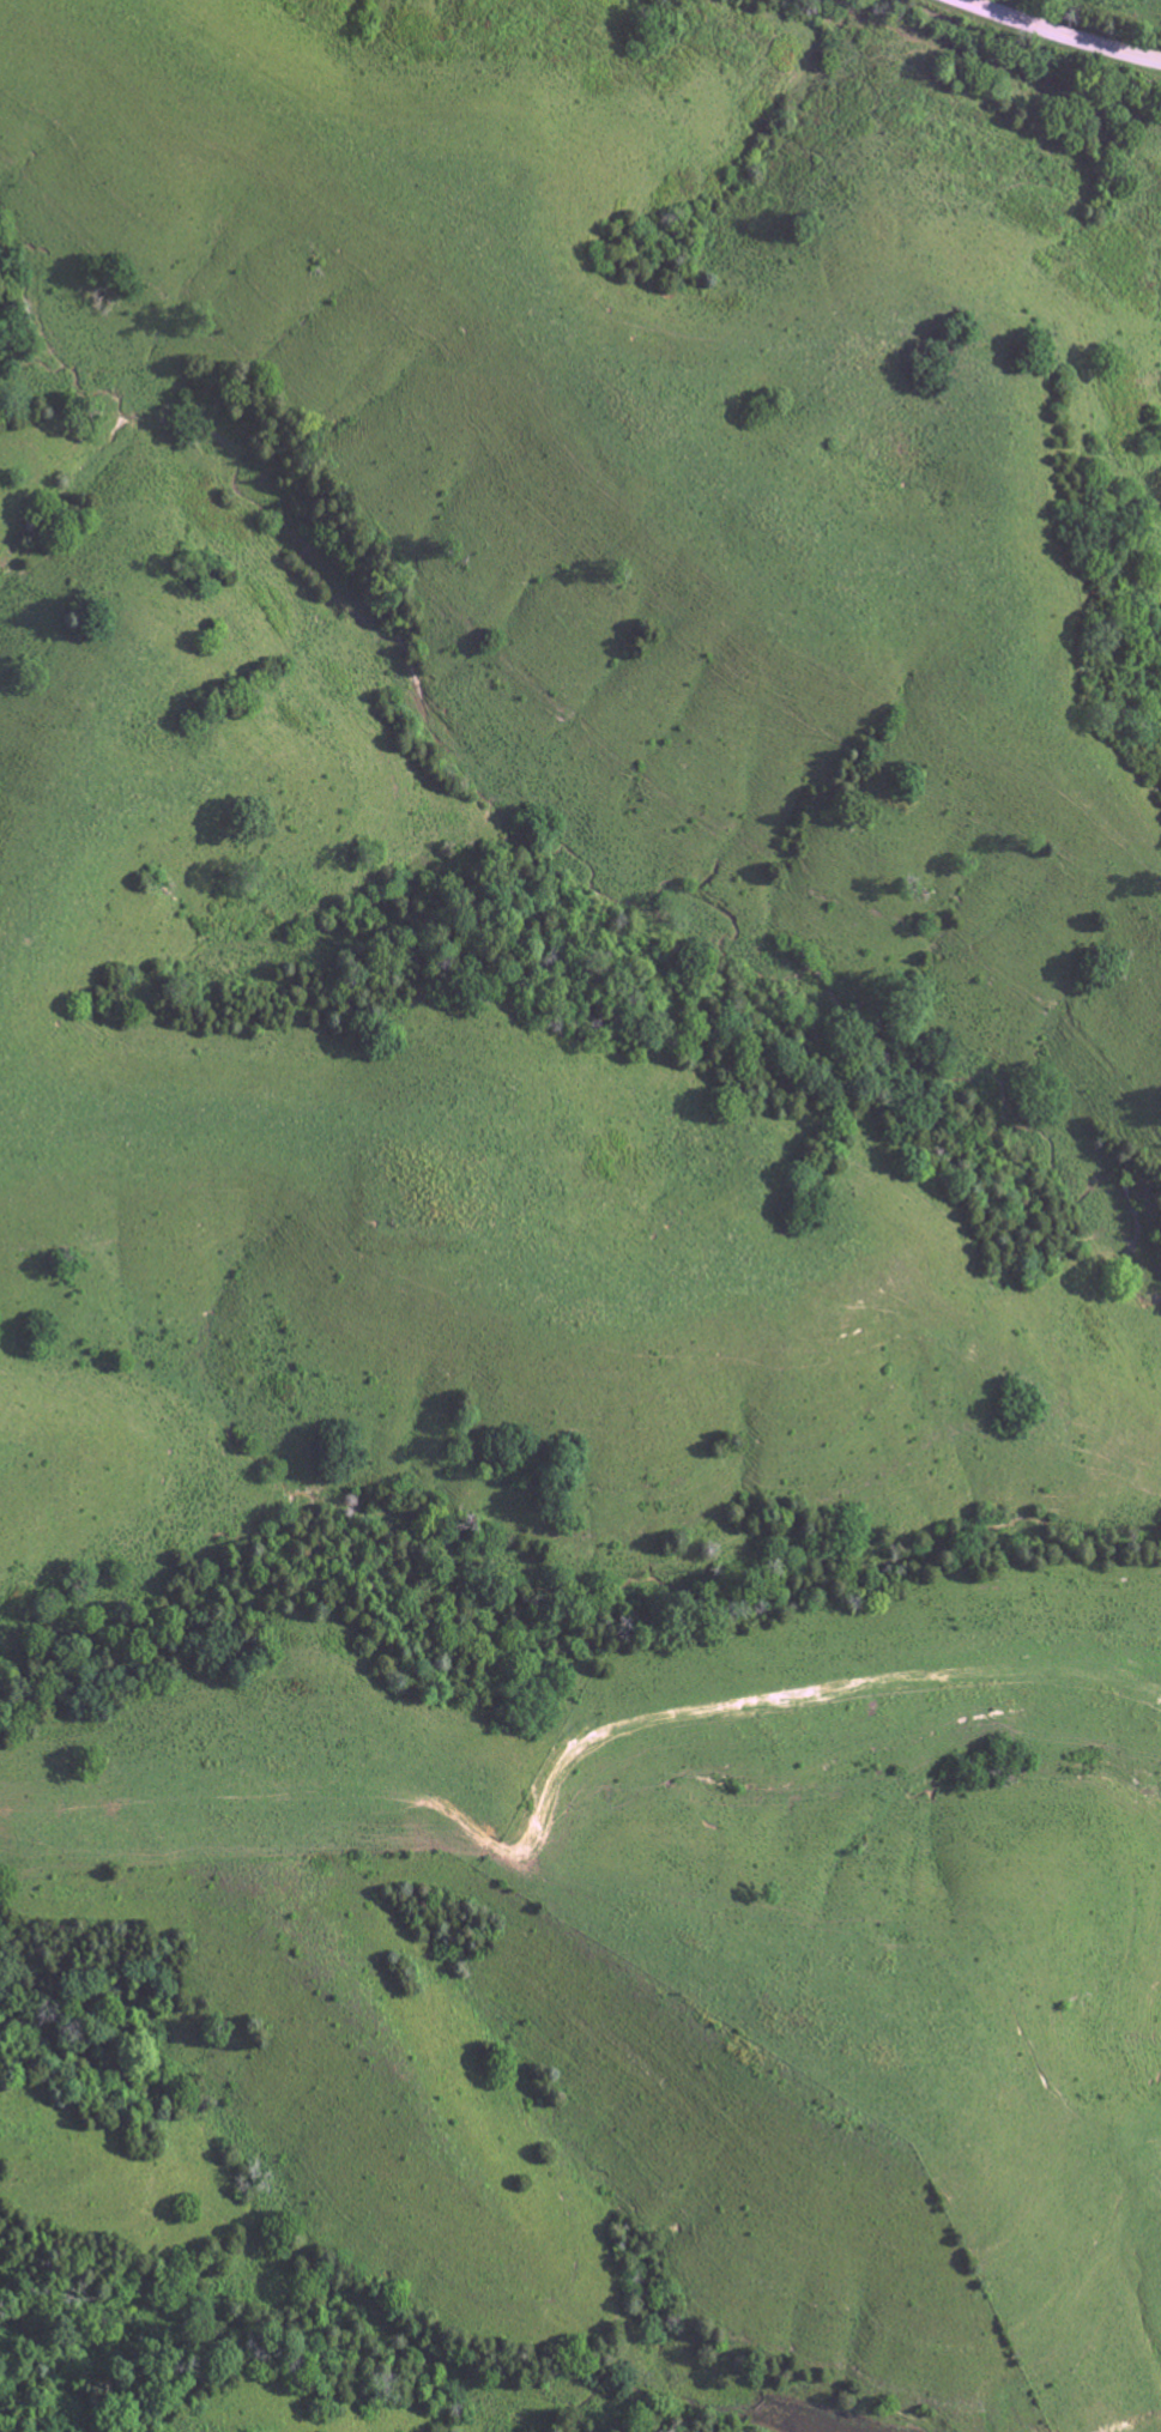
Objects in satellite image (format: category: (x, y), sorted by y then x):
road: (1054, 35)

